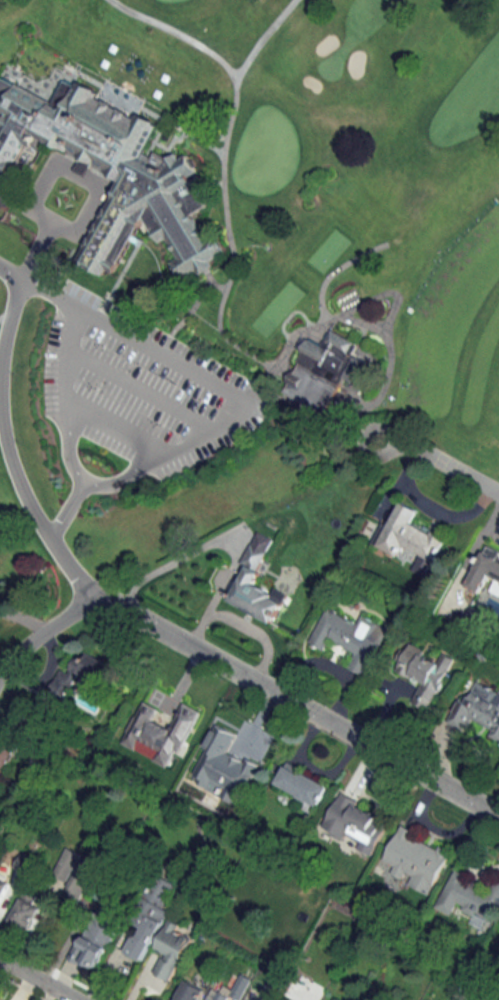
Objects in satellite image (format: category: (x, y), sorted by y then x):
road: (257, 37)
building: (109, 171)
road: (74, 230)
road: (35, 247)
park: (236, 252)
road: (10, 270)
road: (335, 270)
road: (224, 285)
road: (48, 292)
road: (385, 292)
road: (7, 313)
road: (4, 314)
road: (289, 315)
road: (159, 352)
building: (323, 370)
parking lot: (138, 385)
road: (135, 388)
road: (115, 426)
road: (64, 446)
road: (441, 460)
road: (119, 476)
road: (430, 508)
road: (62, 512)
road: (36, 519)
building: (410, 534)
building: (485, 568)
building: (256, 588)
road: (23, 617)
road: (41, 633)
building: (350, 638)
building: (424, 673)
building: (79, 675)
road: (297, 706)
building: (476, 711)
building: (201, 734)
building: (6, 753)
building: (302, 784)
building: (356, 822)
road: (435, 834)
road: (470, 850)
building: (416, 860)
building: (23, 862)
building: (66, 864)
building: (82, 881)
building: (4, 883)
building: (470, 897)
building: (26, 911)
building: (146, 925)
building: (93, 943)
building: (171, 950)
road: (35, 980)
building: (229, 990)
building: (189, 991)

